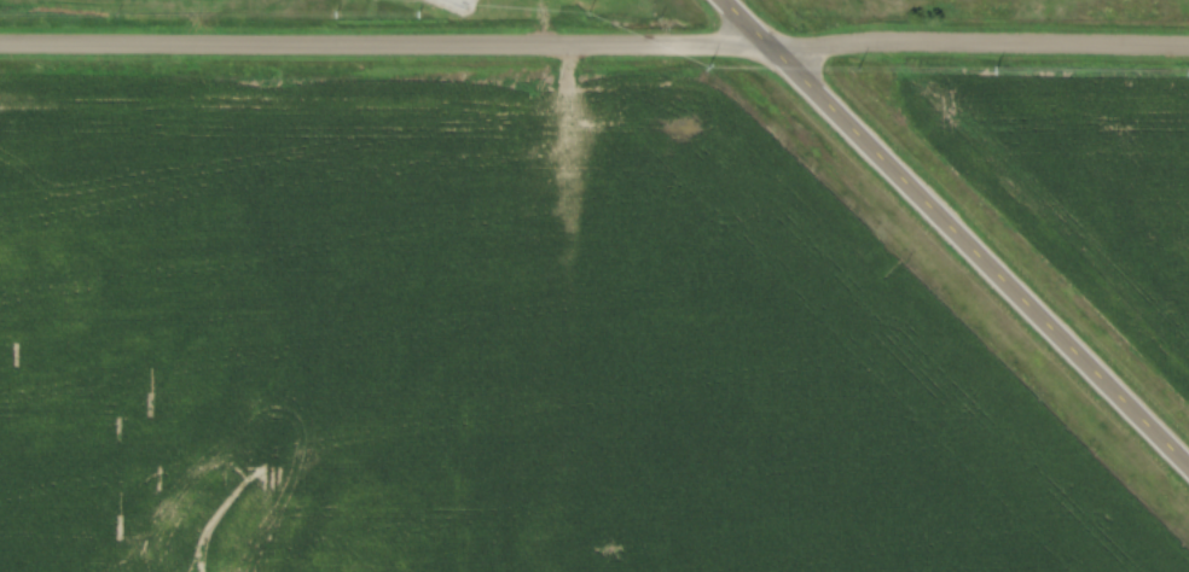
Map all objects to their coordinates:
power substation: (463, 1)
road: (384, 42)
road: (979, 43)
road: (957, 232)

